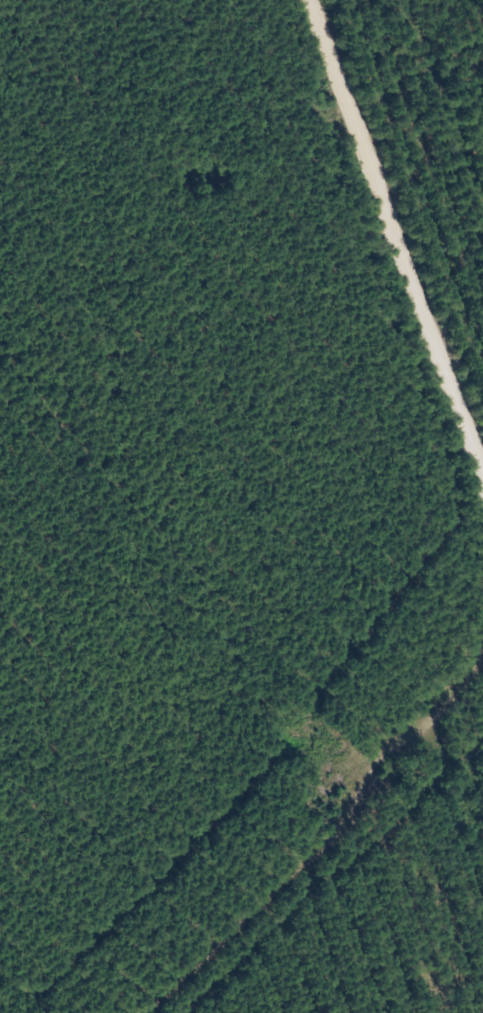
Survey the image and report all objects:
road: (383, 255)

